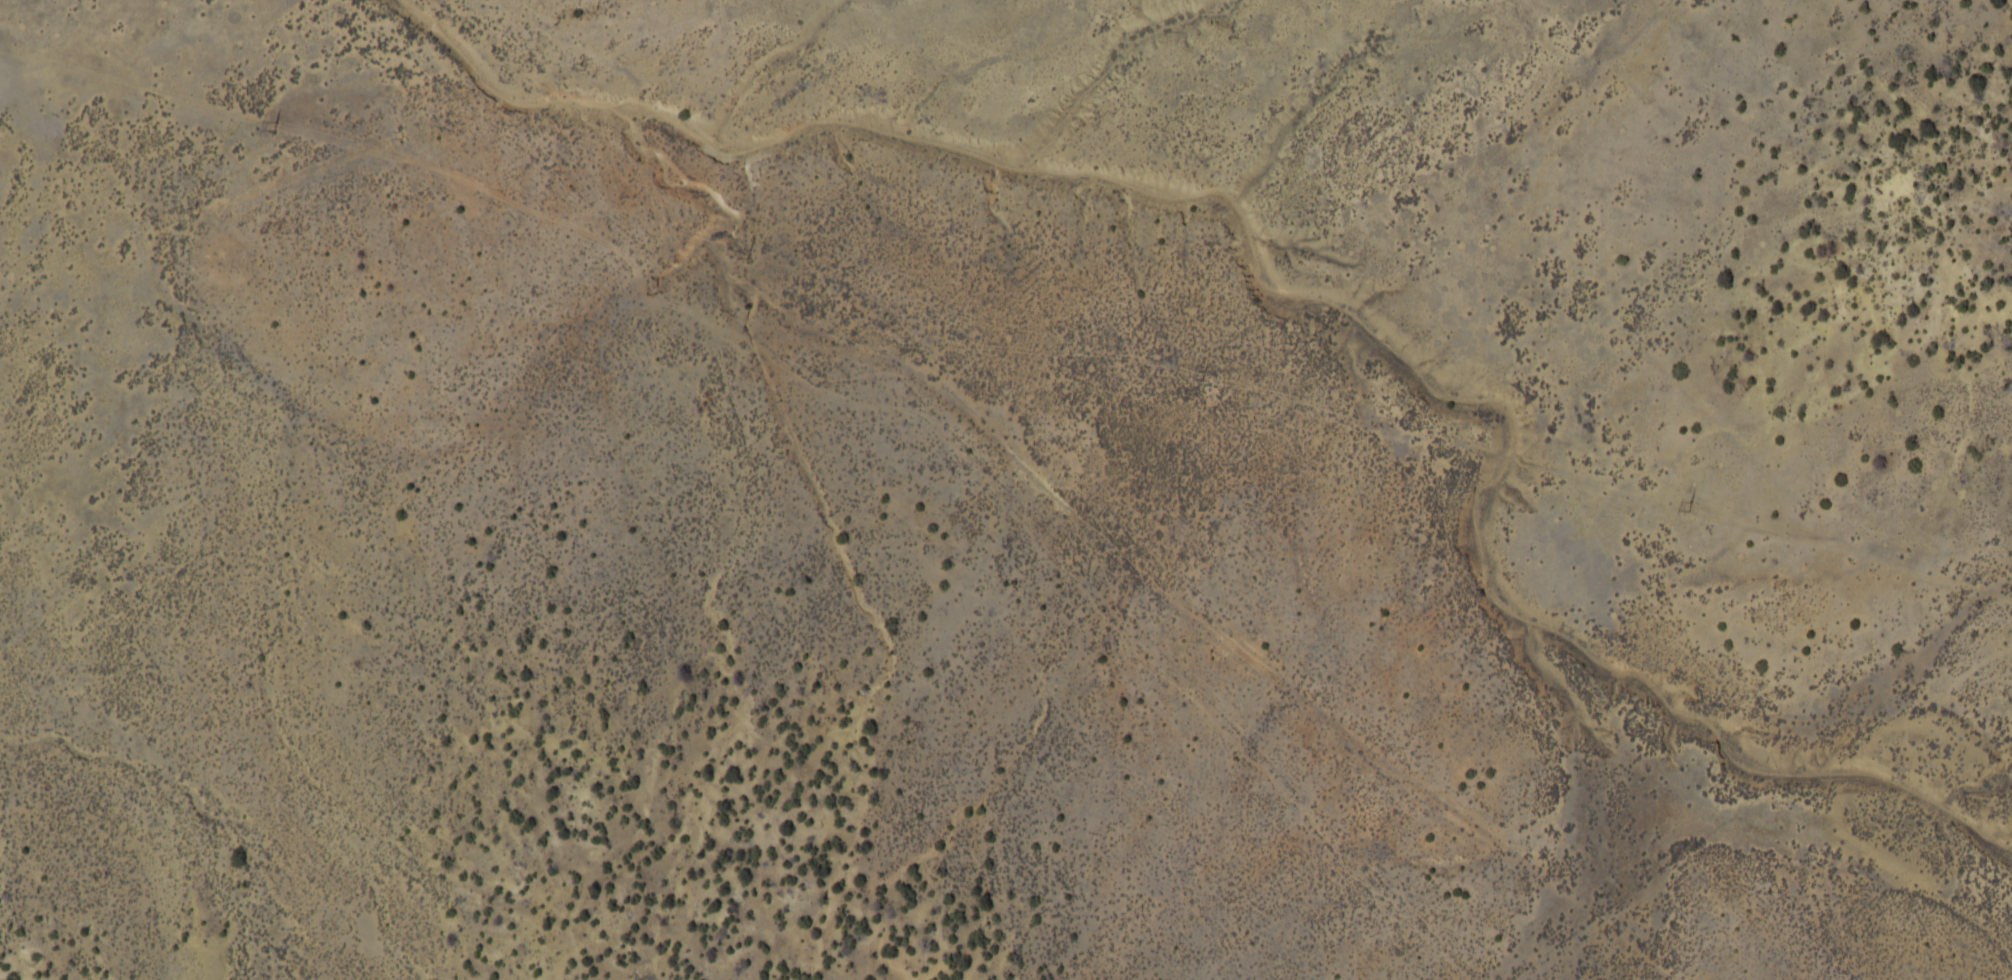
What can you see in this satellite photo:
road: (328, 140)
power tower: (1200, 376)
road: (1004, 494)
power tower: (1689, 506)

